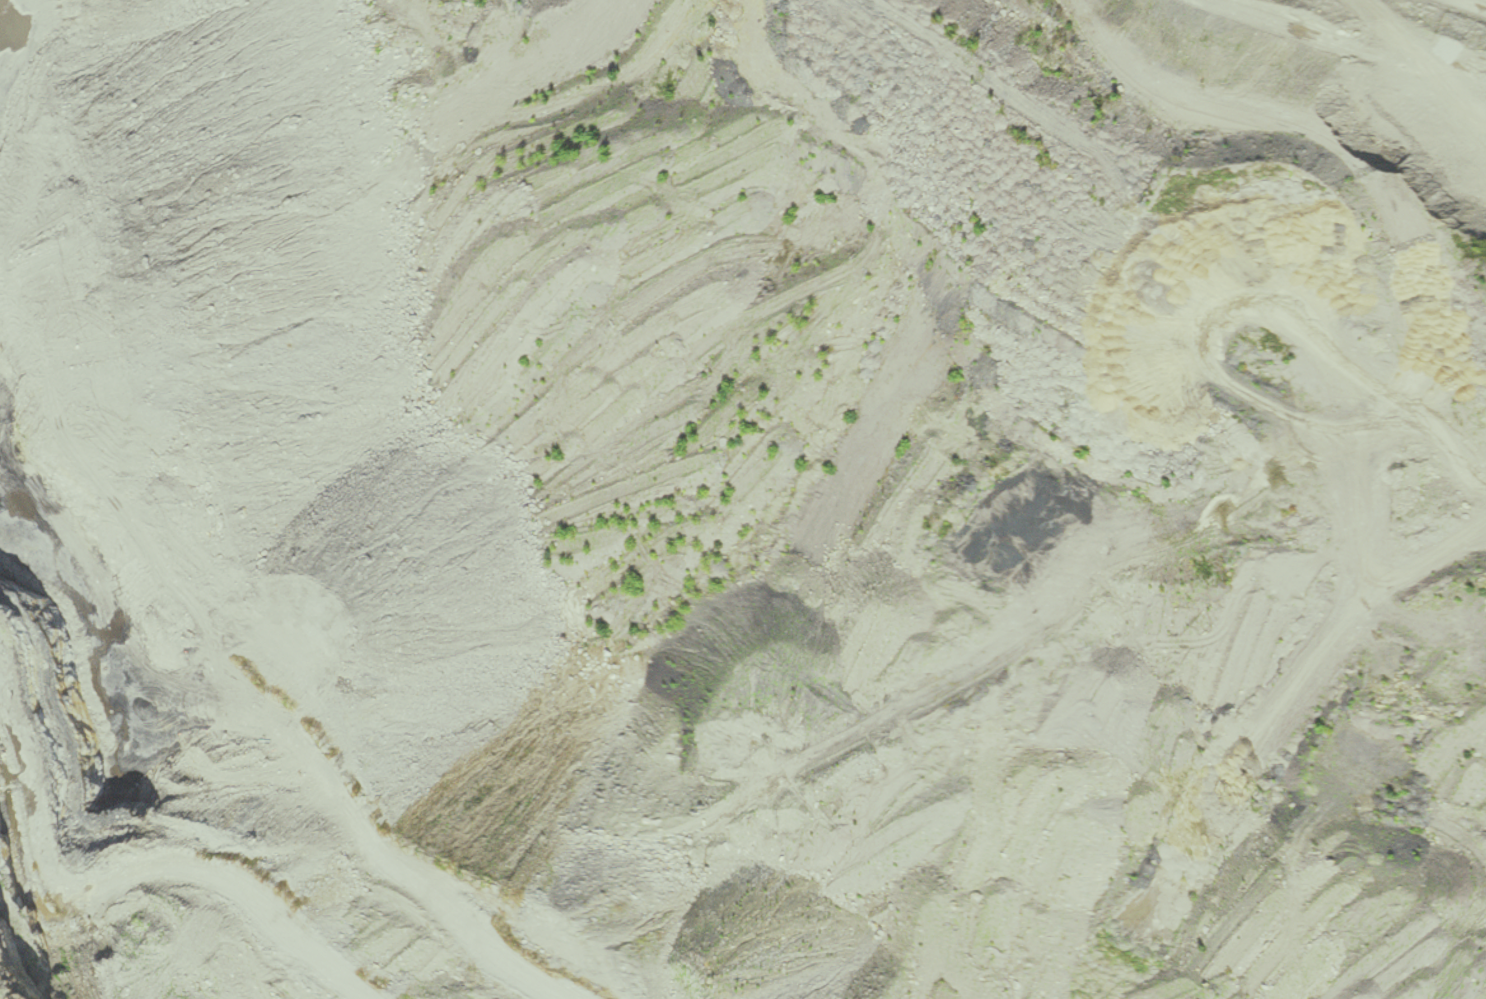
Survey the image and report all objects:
road: (1382, 53)
quarry: (743, 499)

